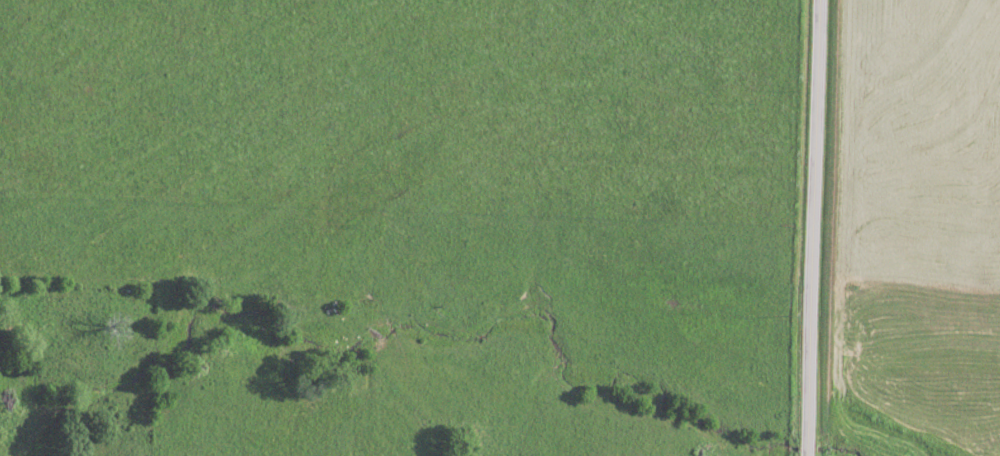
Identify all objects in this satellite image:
road: (811, 227)

